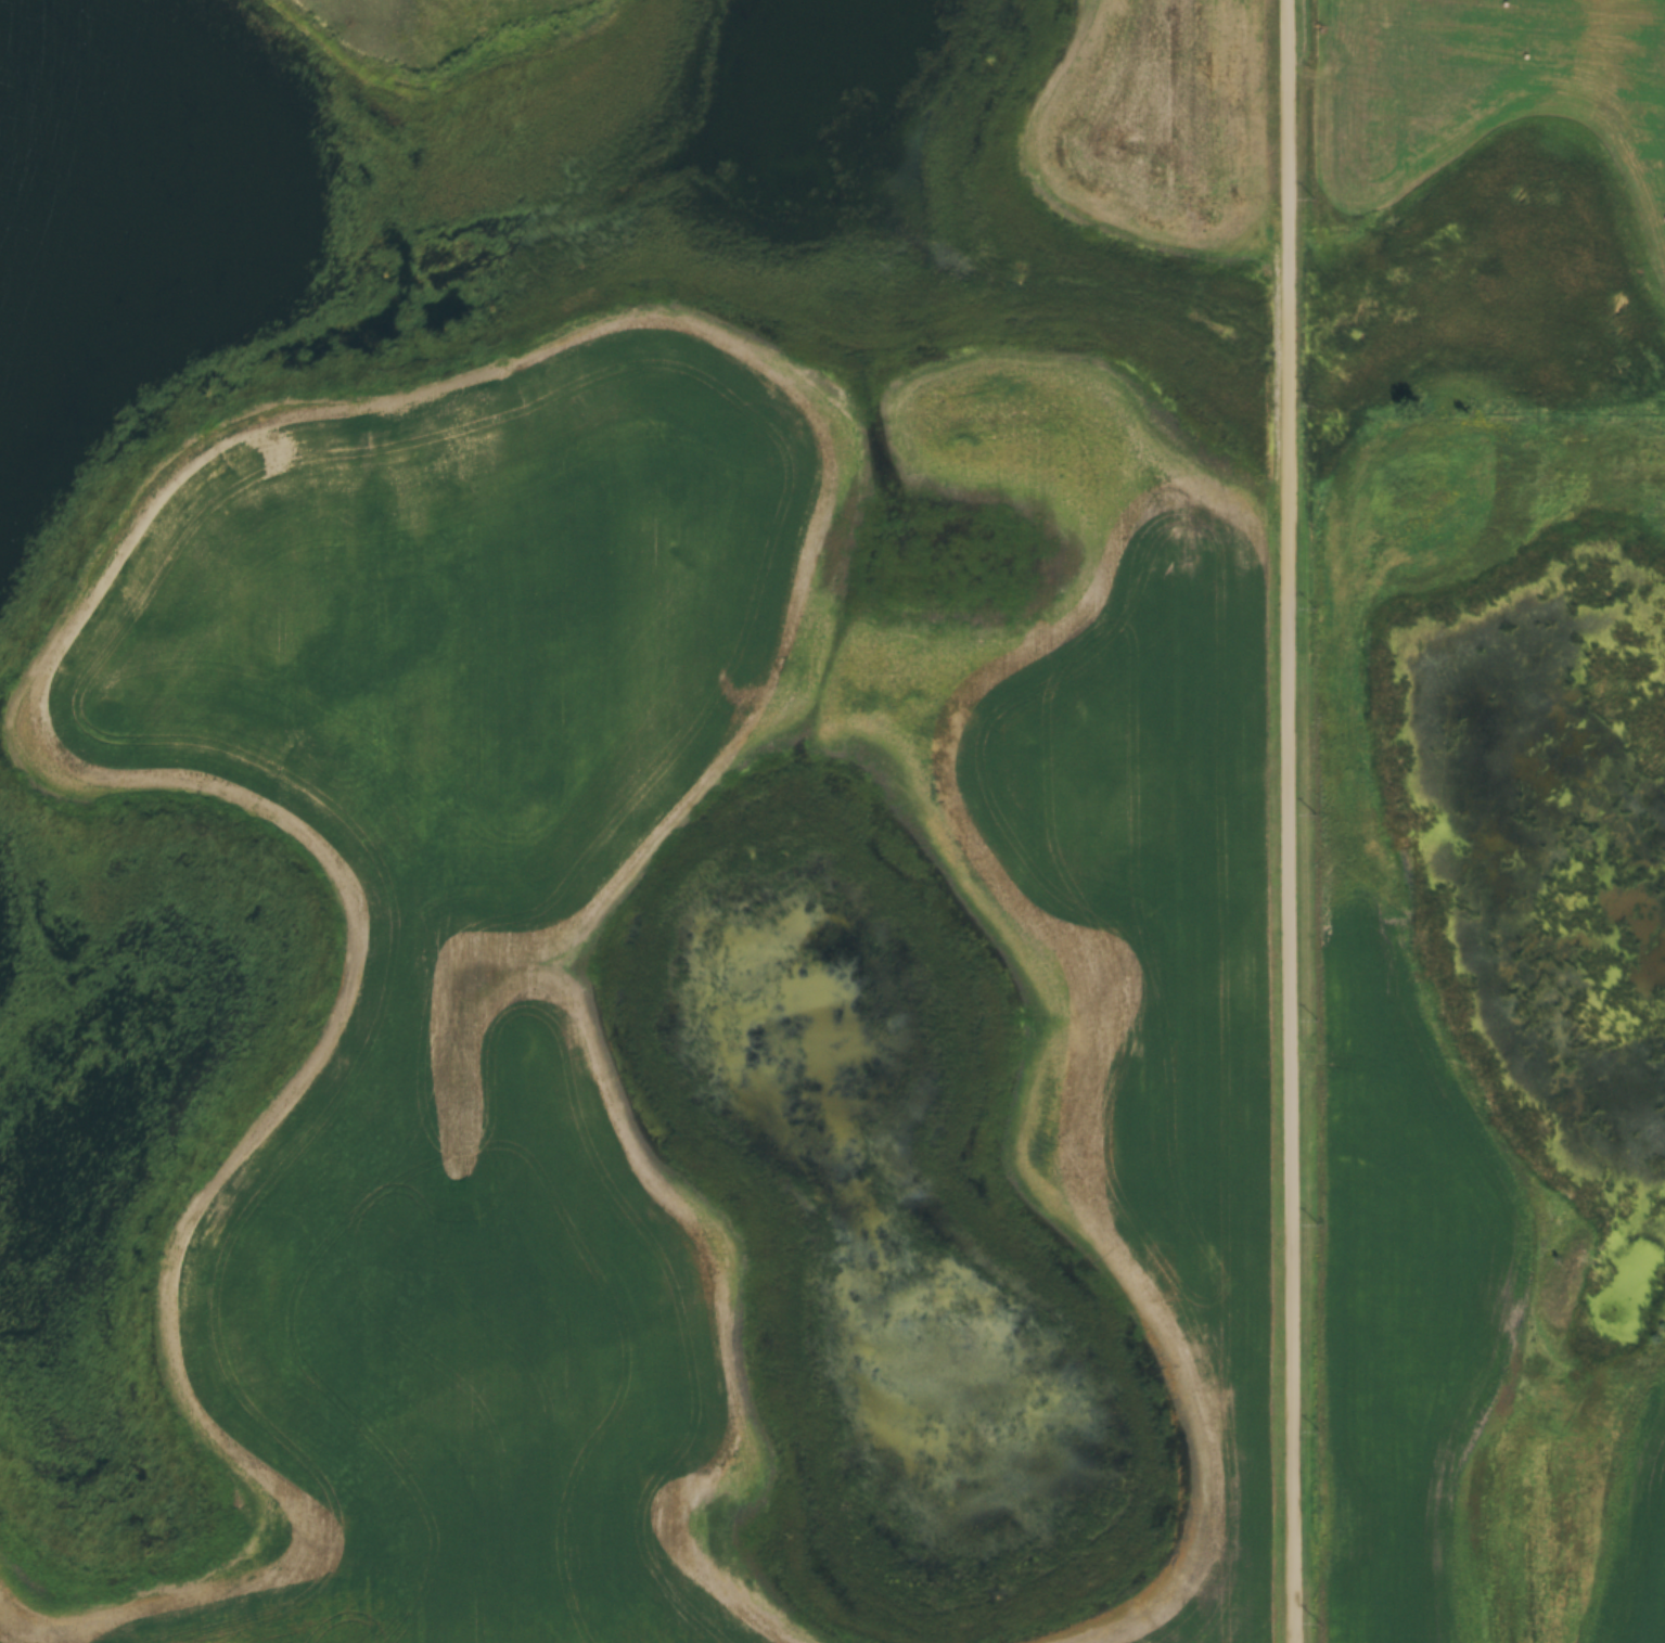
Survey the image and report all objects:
road: (1286, 821)

